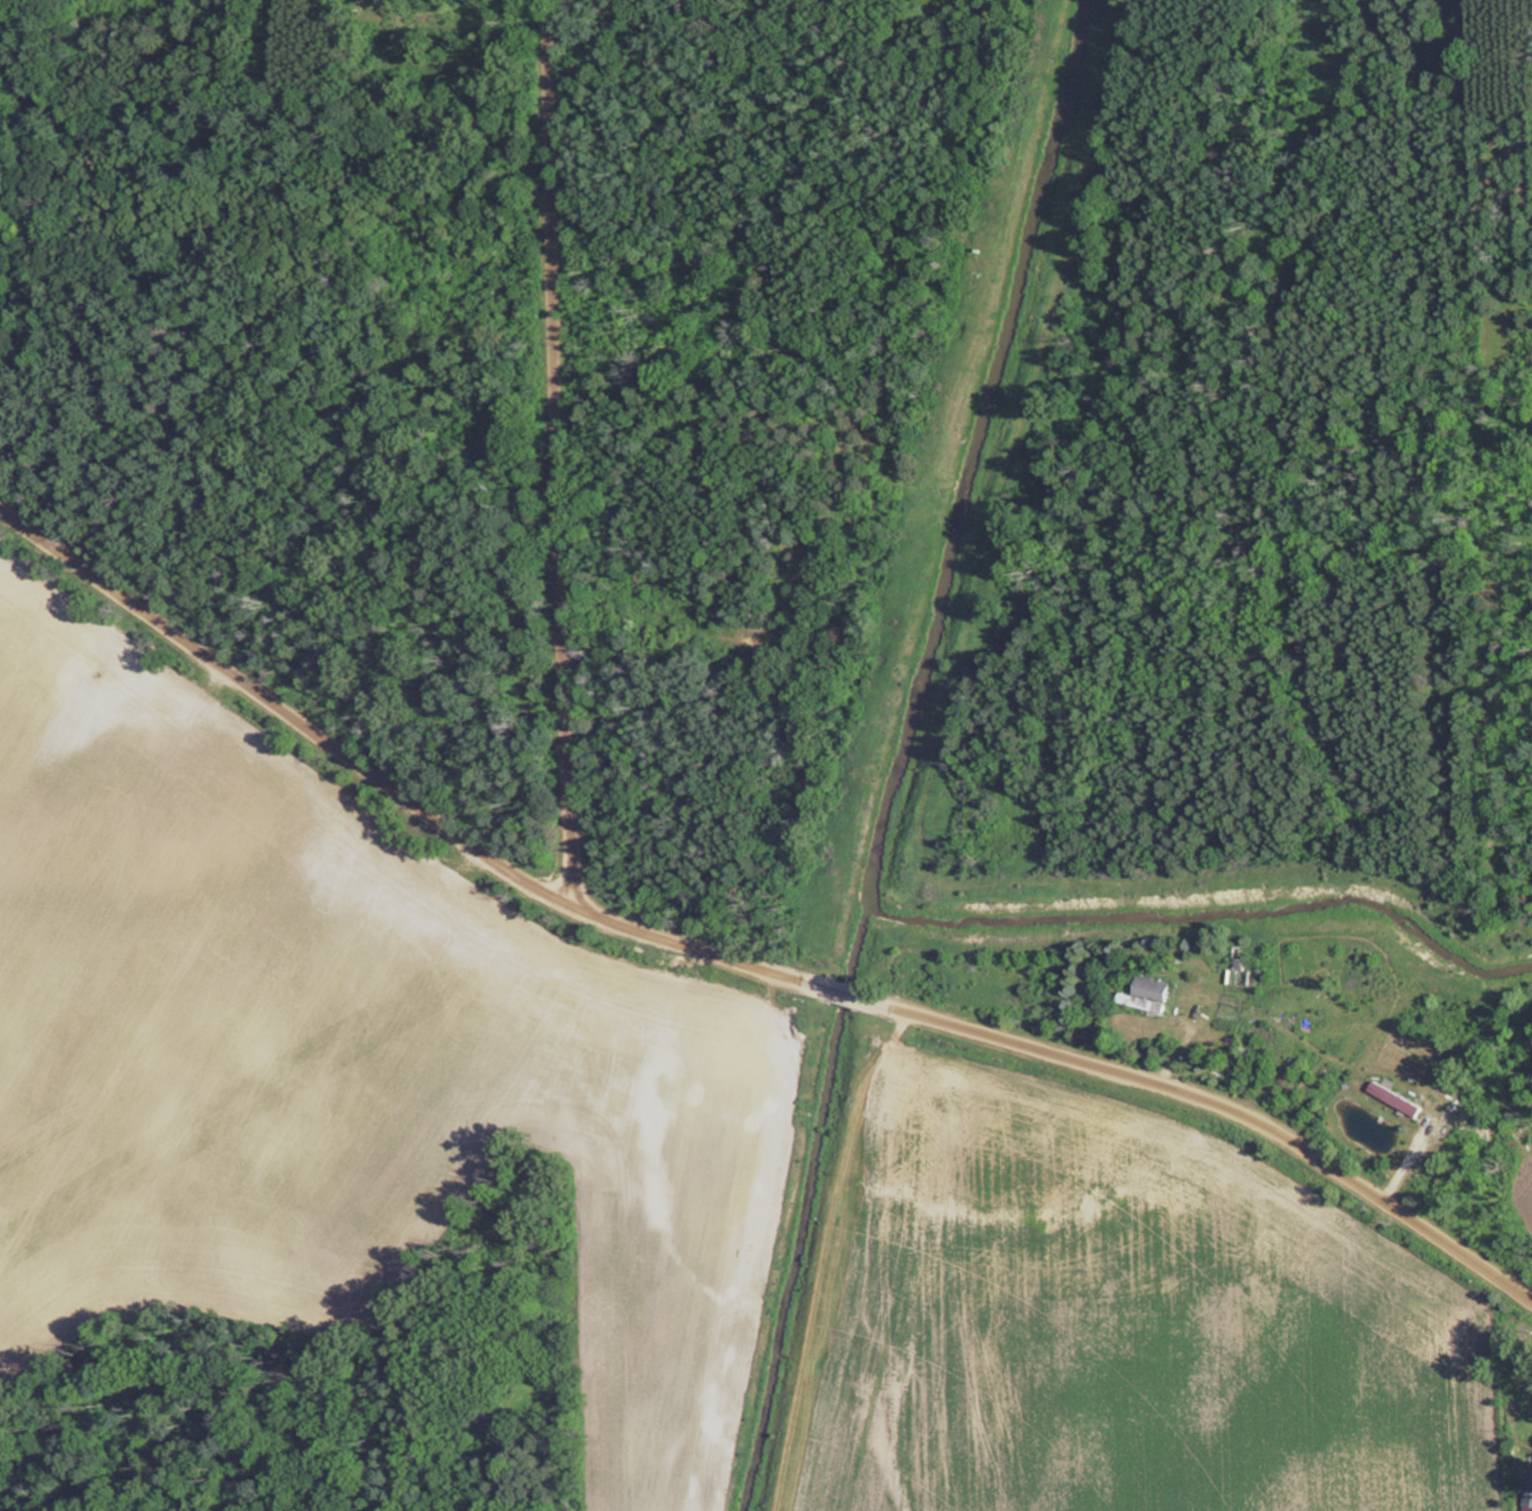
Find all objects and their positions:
road: (561, 455)
road: (387, 787)
building: (1145, 993)
road: (841, 994)
building: (1402, 1100)
road: (1222, 1105)

